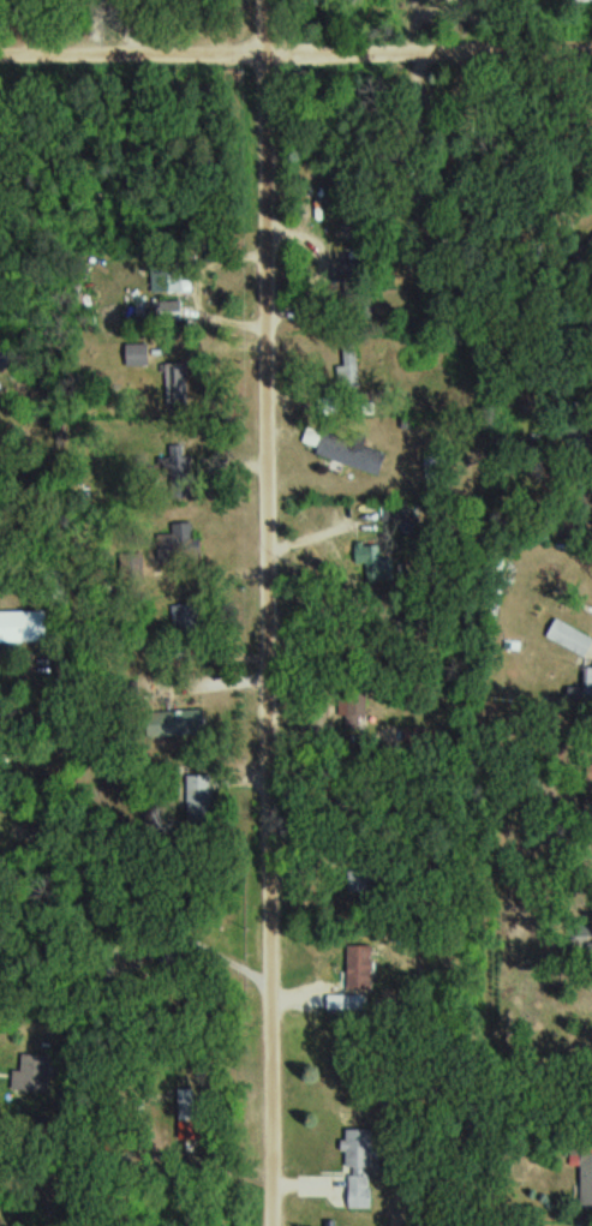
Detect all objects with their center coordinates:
building: (579, 1)
road: (295, 52)
building: (169, 276)
building: (161, 309)
building: (353, 367)
building: (346, 449)
building: (184, 543)
road: (276, 612)
building: (572, 638)
building: (584, 688)
building: (354, 717)
building: (186, 720)
building: (202, 799)
building: (364, 968)
building: (364, 1167)
building: (587, 1179)

